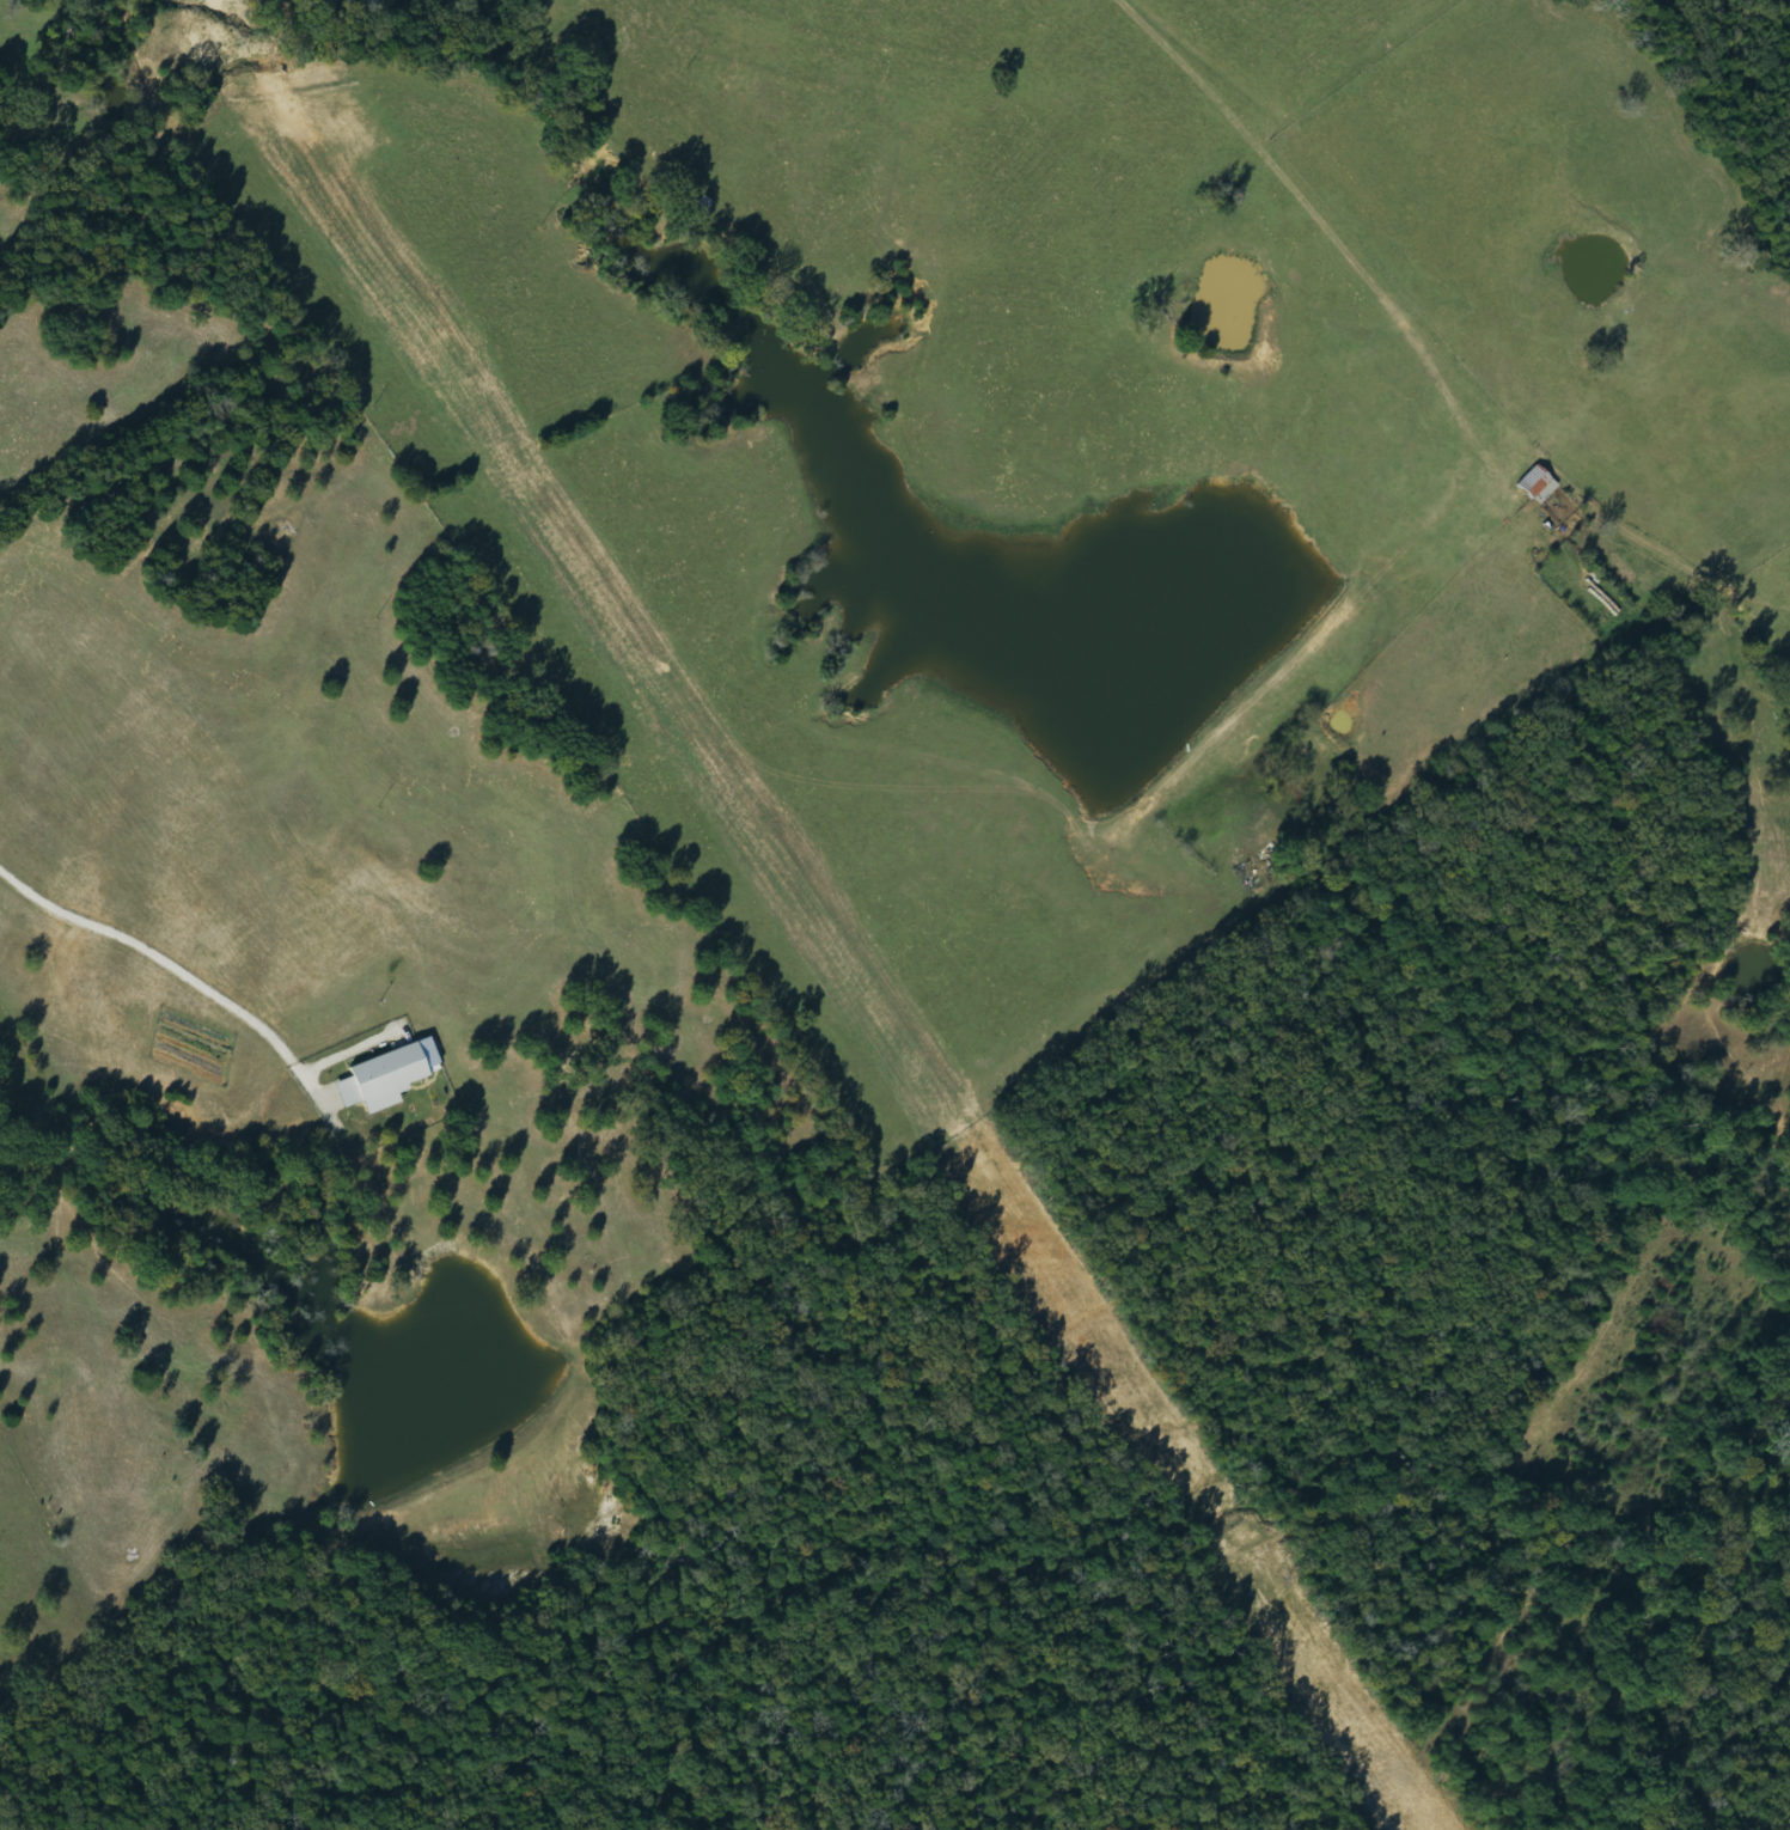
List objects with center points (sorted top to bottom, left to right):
road: (1346, 249)
building: (1540, 484)
building: (391, 1076)

